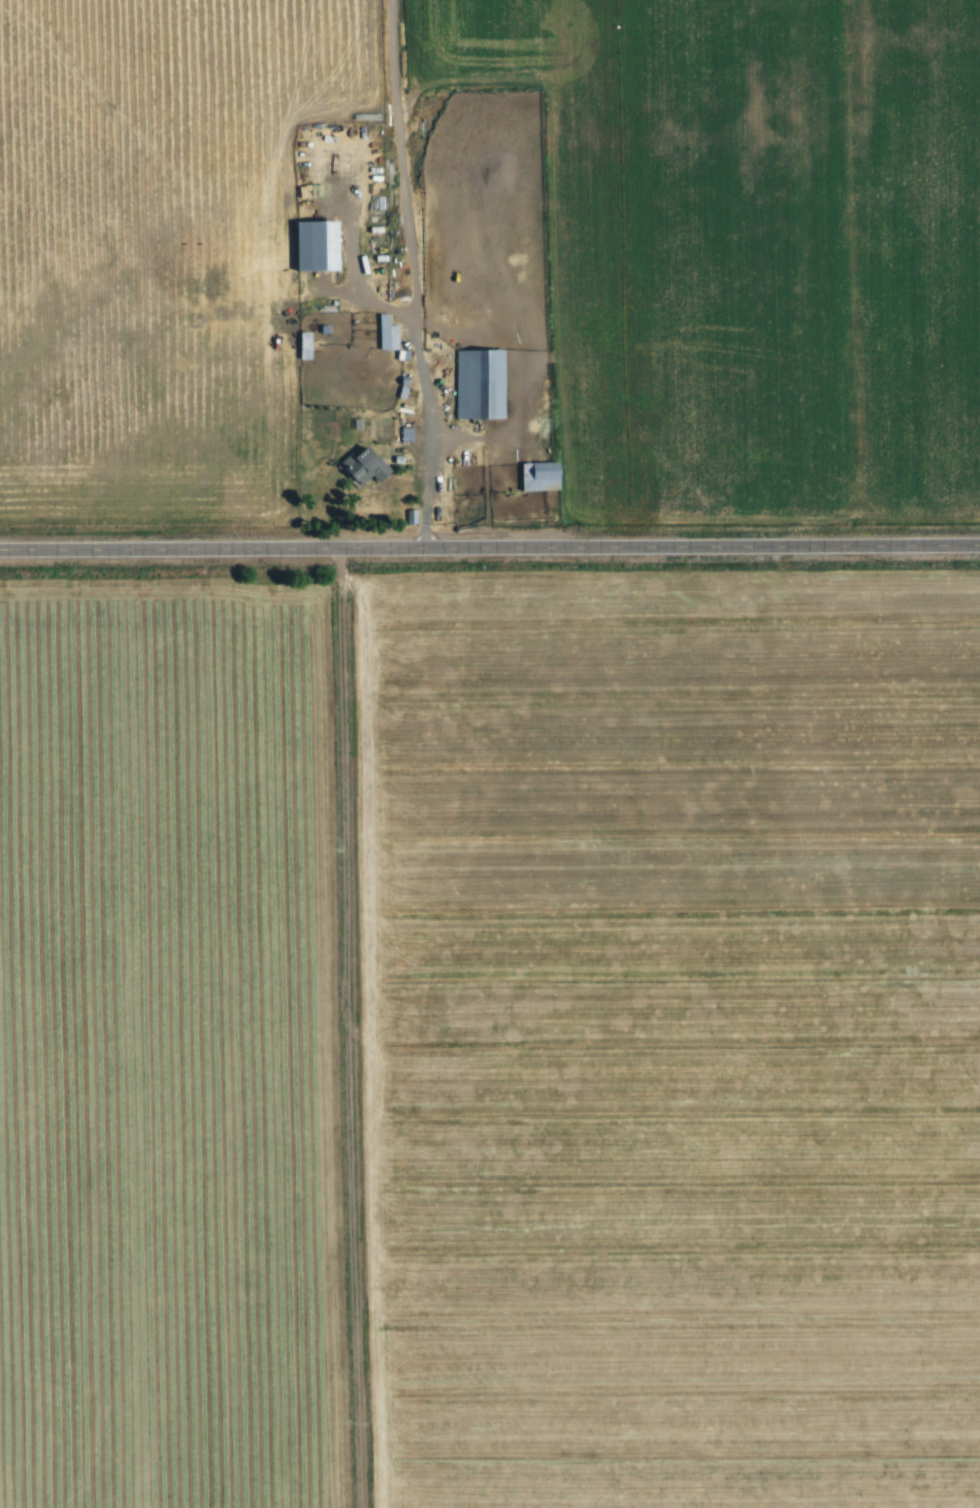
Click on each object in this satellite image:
building: (328, 245)
crop: (755, 250)
crop: (169, 251)
road: (424, 274)
building: (388, 334)
building: (494, 385)
building: (407, 435)
road: (455, 459)
building: (380, 468)
building: (553, 477)
road: (489, 548)
crop: (679, 1036)
crop: (179, 1044)

